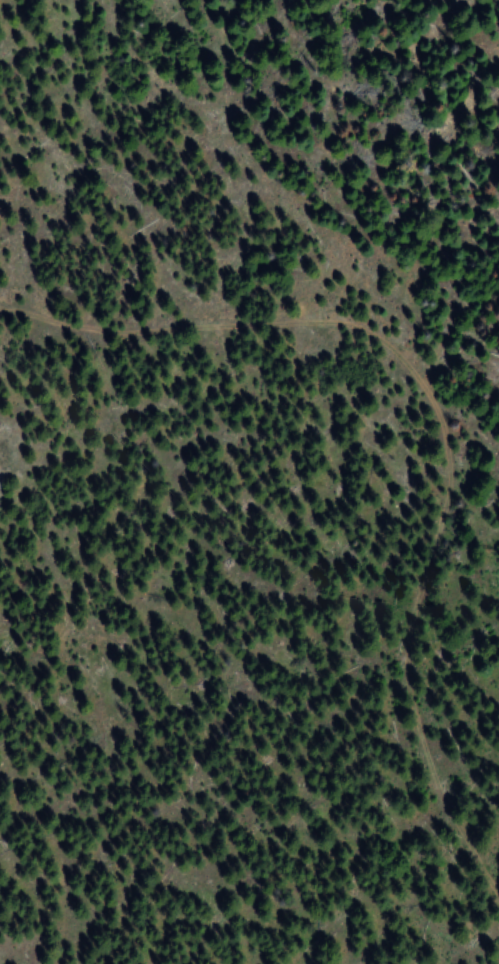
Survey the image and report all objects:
road: (444, 426)

